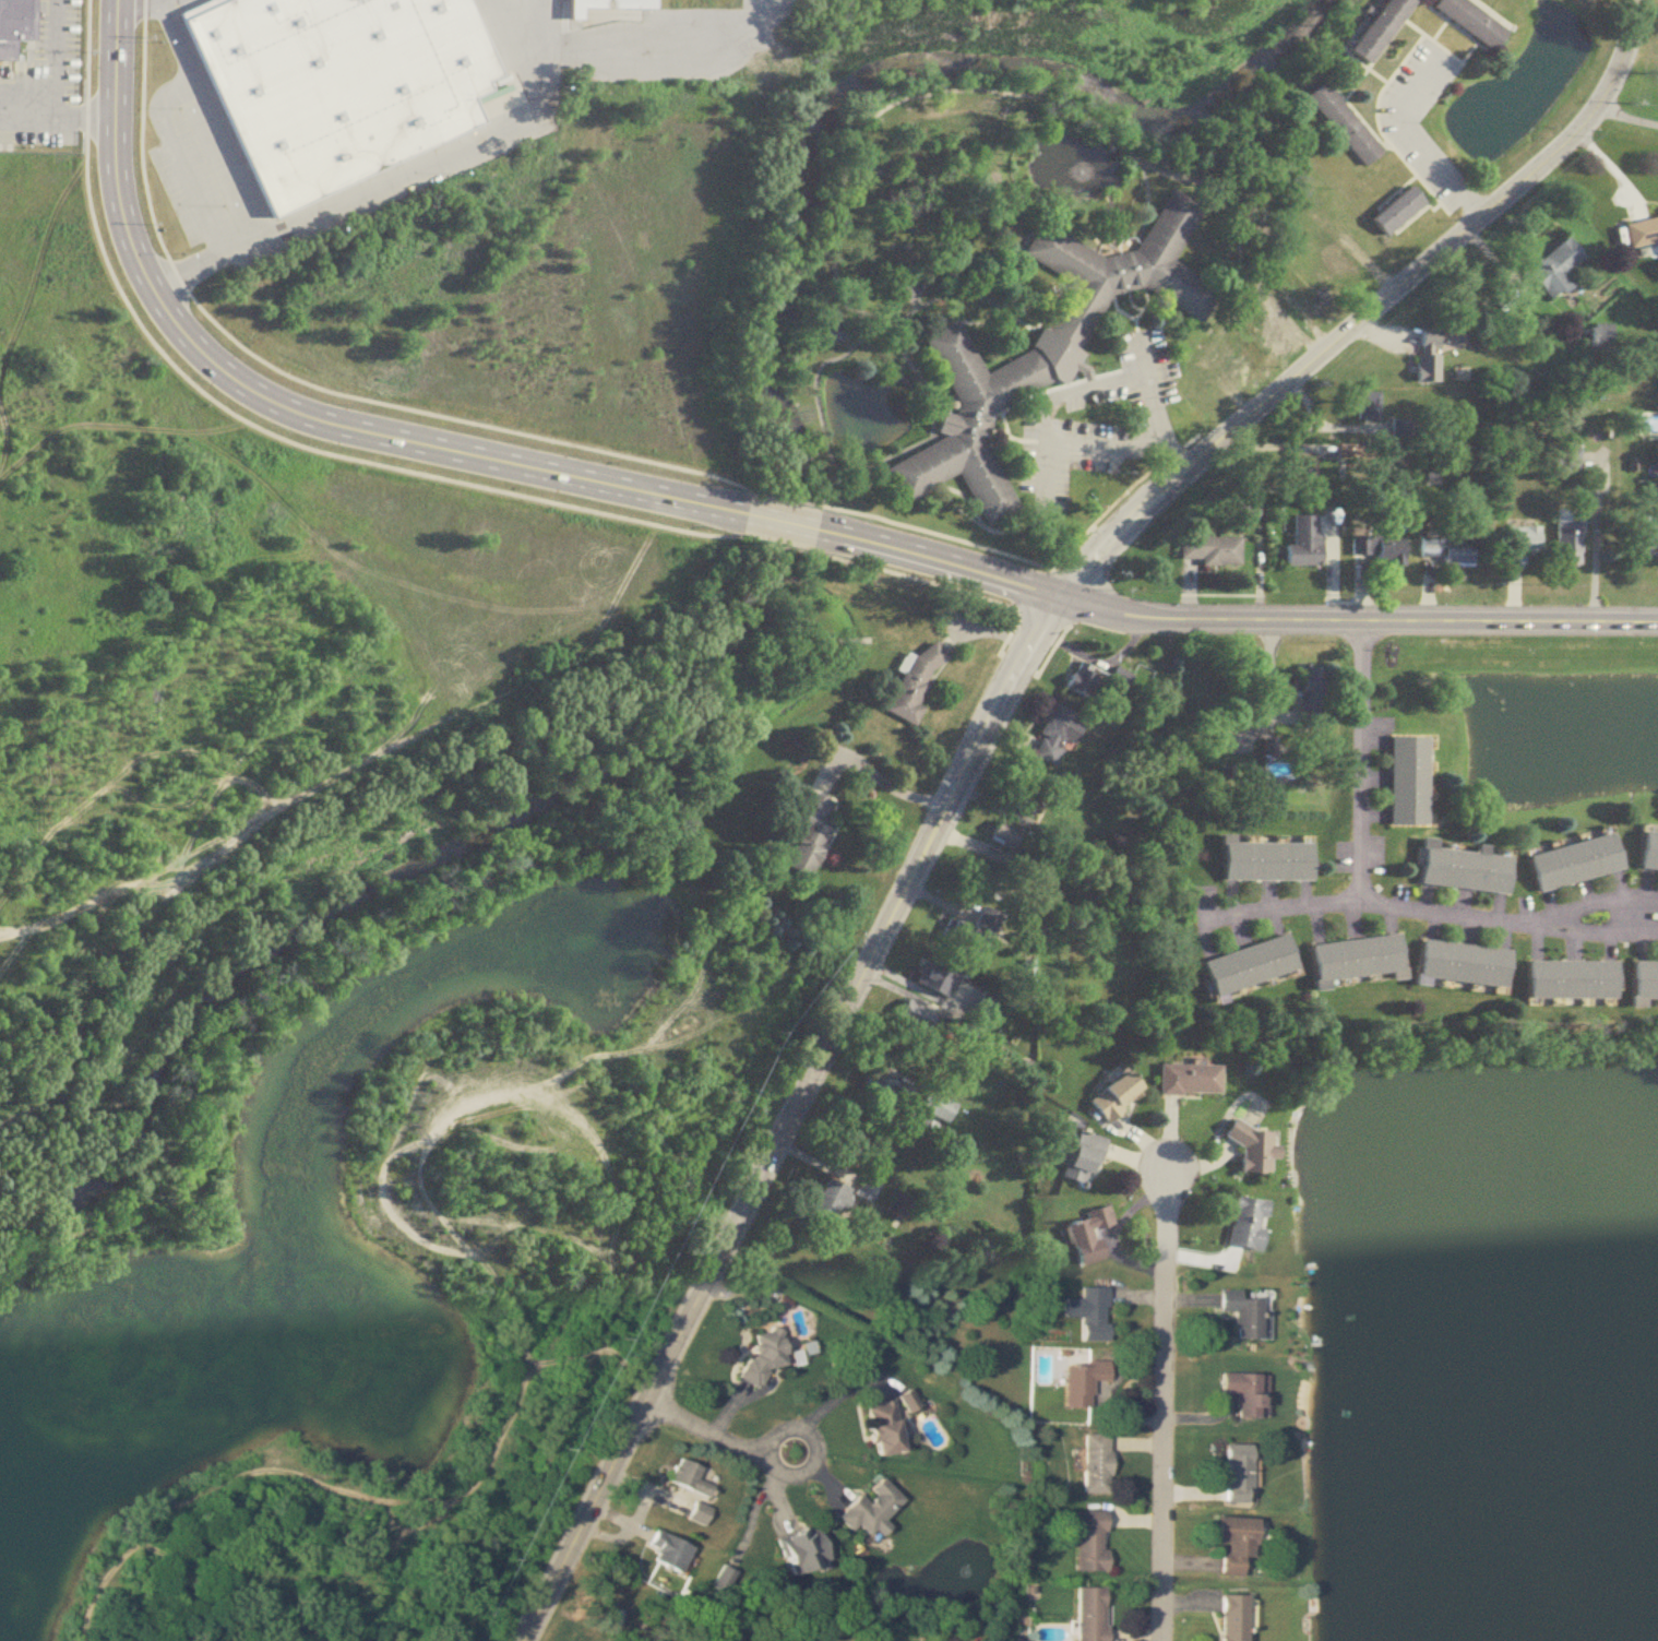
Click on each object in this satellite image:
road: (178, 1)
road: (168, 4)
road: (136, 7)
building: (603, 7)
parking lot: (177, 8)
road: (551, 17)
building: (1475, 19)
parking lot: (518, 24)
building: (1373, 26)
building: (16, 27)
road: (508, 27)
road: (675, 37)
road: (179, 38)
road: (540, 45)
parking lot: (44, 82)
road: (56, 82)
building: (343, 86)
road: (1626, 117)
road: (86, 120)
building: (1346, 122)
parking lot: (1398, 126)
road: (1403, 130)
road: (226, 148)
road: (177, 152)
parking lot: (202, 165)
fountain: (1082, 171)
road: (349, 201)
building: (1303, 204)
building: (1397, 205)
road: (1469, 206)
road: (263, 233)
building: (1641, 233)
road: (220, 251)
building: (1552, 270)
building: (1339, 273)
road: (636, 281)
building: (832, 333)
building: (1597, 336)
building: (1047, 341)
building: (1426, 343)
road: (823, 359)
building: (1240, 367)
building: (1423, 370)
road: (309, 381)
road: (1149, 385)
road: (1054, 397)
road: (282, 407)
building: (1365, 407)
fountain: (871, 411)
parking lot: (1100, 418)
road: (121, 425)
road: (2, 445)
road: (1105, 450)
road: (1170, 453)
building: (1565, 463)
road: (417, 469)
road: (791, 501)
road: (782, 526)
building: (1643, 537)
road: (1594, 540)
building: (1303, 545)
building: (1516, 545)
building: (1564, 547)
road: (324, 550)
building: (1376, 550)
building: (1442, 550)
building: (1214, 551)
road: (941, 563)
road: (1038, 564)
road: (1357, 621)
road: (1041, 666)
building: (1086, 681)
building: (915, 685)
building: (1312, 695)
road: (409, 723)
building: (1060, 735)
road: (981, 740)
road: (1364, 761)
building: (1406, 781)
road: (312, 792)
building: (1025, 798)
building: (810, 834)
building: (1007, 837)
building: (1646, 852)
building: (1268, 861)
building: (1571, 863)
building: (1458, 868)
road: (473, 887)
road: (82, 900)
road: (1423, 909)
building: (974, 930)
building: (1356, 961)
building: (1458, 964)
building: (1252, 966)
building: (939, 980)
building: (1566, 980)
building: (1642, 984)
building: (987, 1008)
building: (920, 1019)
building: (1192, 1081)
building: (884, 1091)
building: (1119, 1097)
building: (940, 1108)
building: (1257, 1150)
building: (1085, 1161)
building: (869, 1190)
building: (833, 1201)
building: (902, 1206)
road: (599, 1217)
building: (1250, 1224)
road: (1106, 1236)
building: (1092, 1237)
building: (1097, 1313)
building: (1251, 1313)
road: (630, 1355)
building: (768, 1357)
road: (522, 1374)
building: (1086, 1382)
road: (1165, 1393)
building: (1250, 1393)
building: (913, 1401)
road: (827, 1405)
building: (891, 1428)
road: (720, 1432)
building: (1099, 1463)
building: (1243, 1474)
building: (695, 1477)
road: (212, 1487)
building: (878, 1510)
building: (705, 1513)
building: (1096, 1539)
building: (1242, 1544)
building: (810, 1549)
building: (676, 1550)
road: (270, 1568)
building: (1095, 1614)
building: (1239, 1617)

